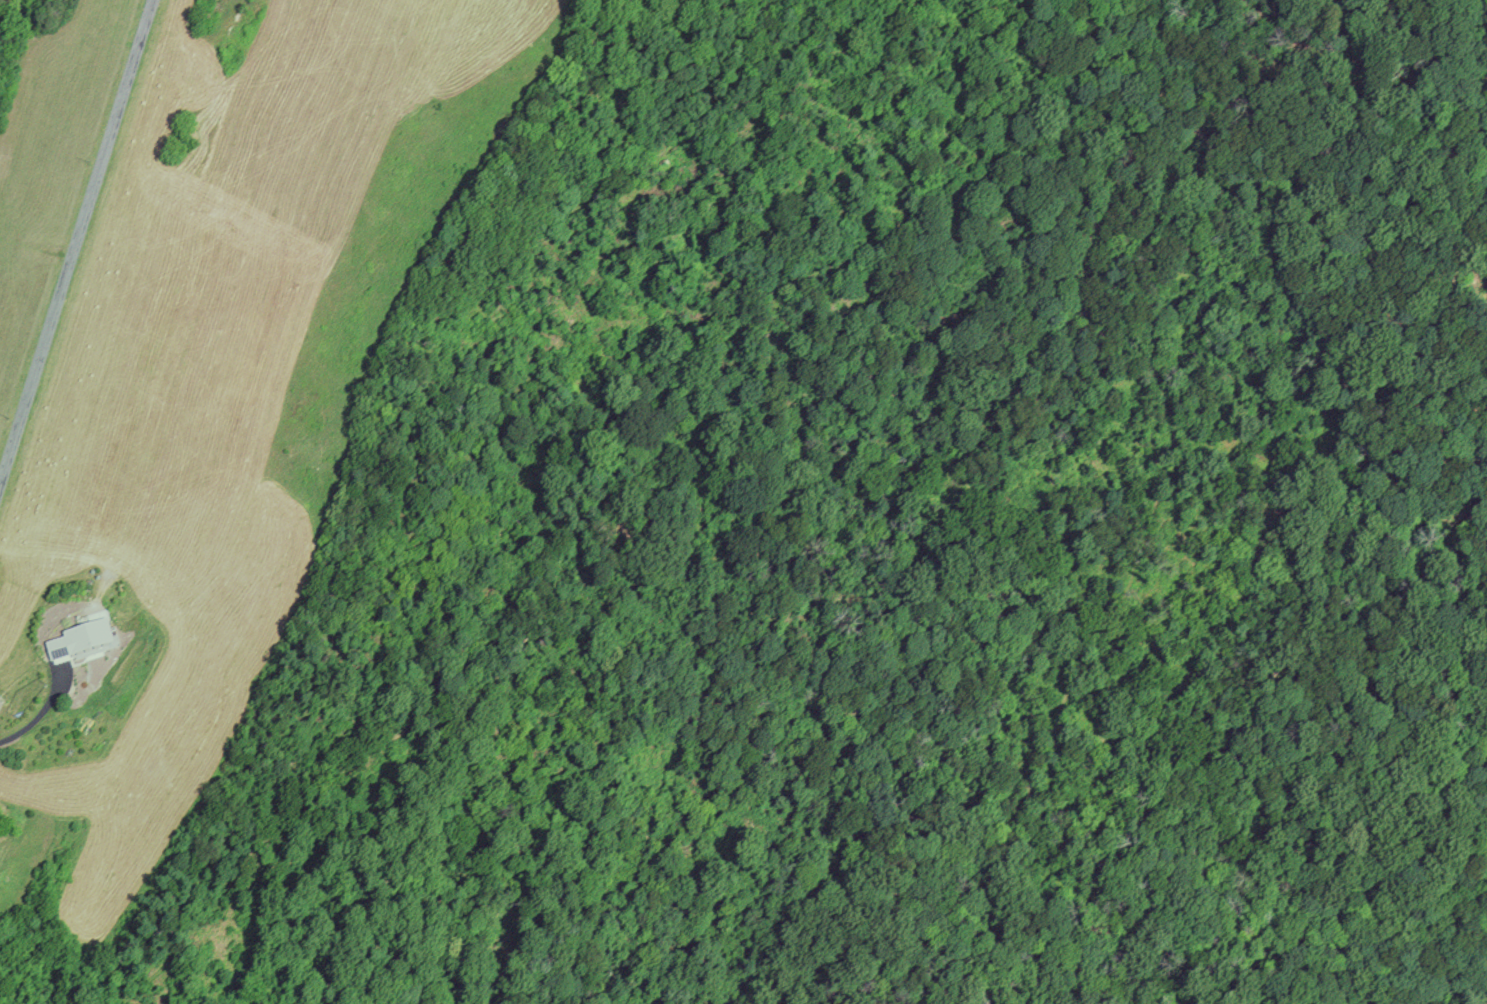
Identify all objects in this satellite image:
road: (76, 241)
building: (82, 639)

